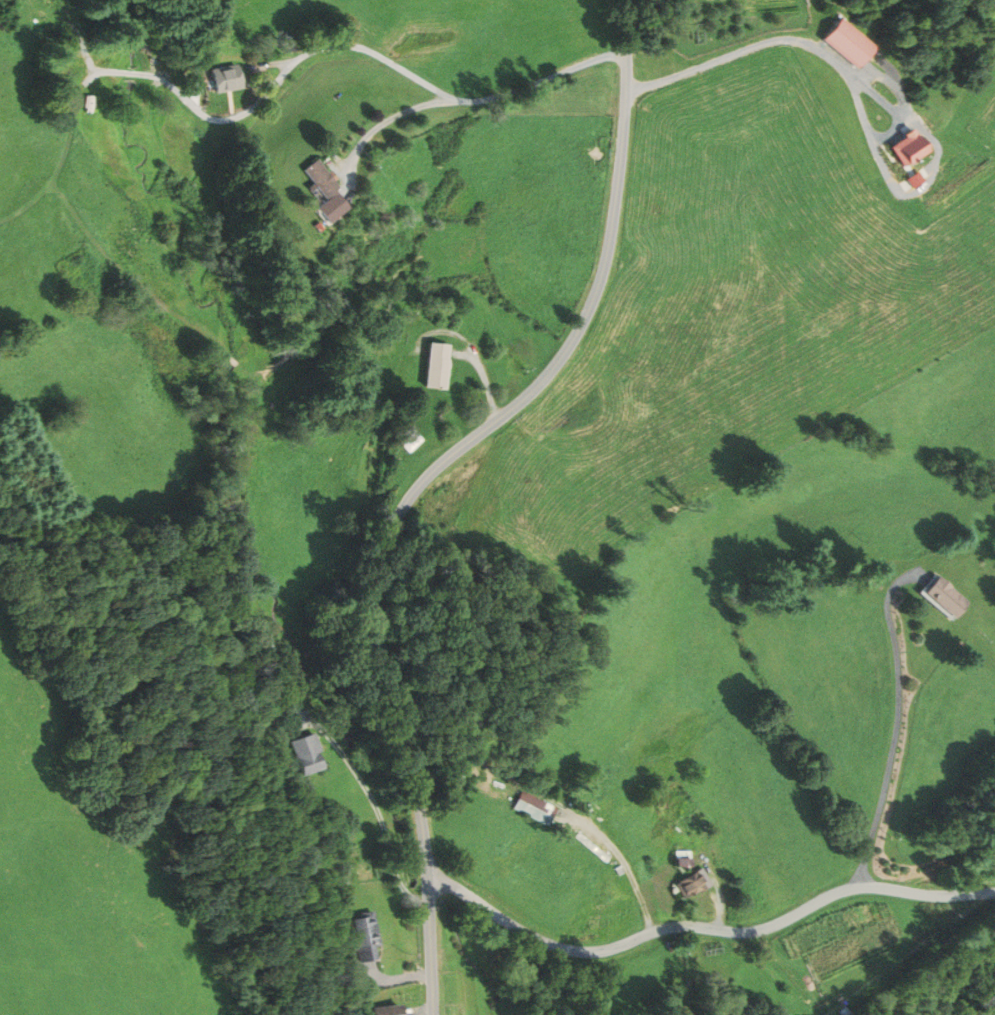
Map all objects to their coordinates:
building: (851, 44)
road: (376, 53)
building: (231, 79)
road: (380, 122)
building: (916, 150)
building: (330, 179)
building: (442, 367)
building: (413, 442)
road: (425, 480)
building: (943, 594)
road: (897, 720)
building: (308, 755)
building: (533, 806)
building: (694, 817)
building: (681, 856)
road: (625, 867)
building: (692, 881)
road: (719, 887)
road: (928, 895)
road: (640, 937)
building: (369, 939)
building: (395, 1010)

